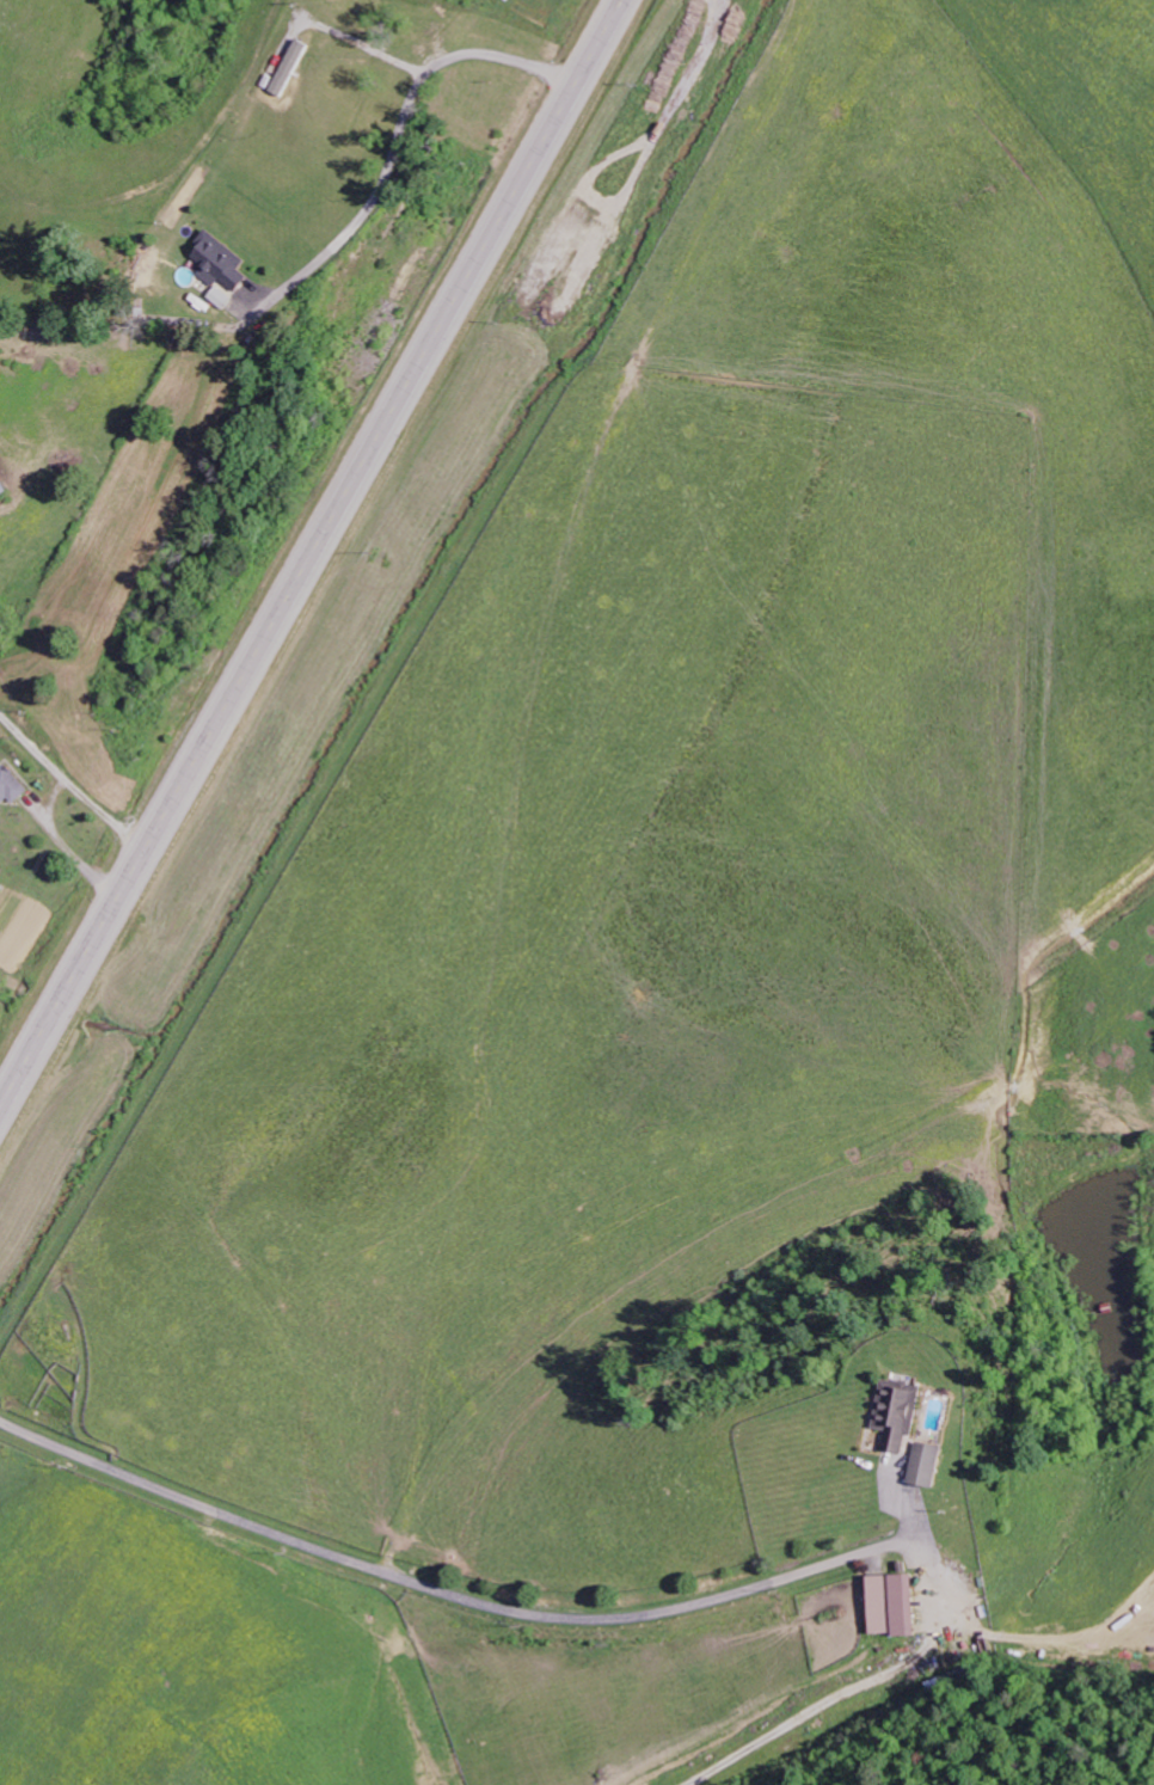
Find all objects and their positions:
road: (377, 198)
building: (222, 262)
building: (222, 296)
building: (5, 486)
road: (308, 552)
building: (12, 787)
building: (902, 1412)
building: (931, 1464)
building: (897, 1603)

